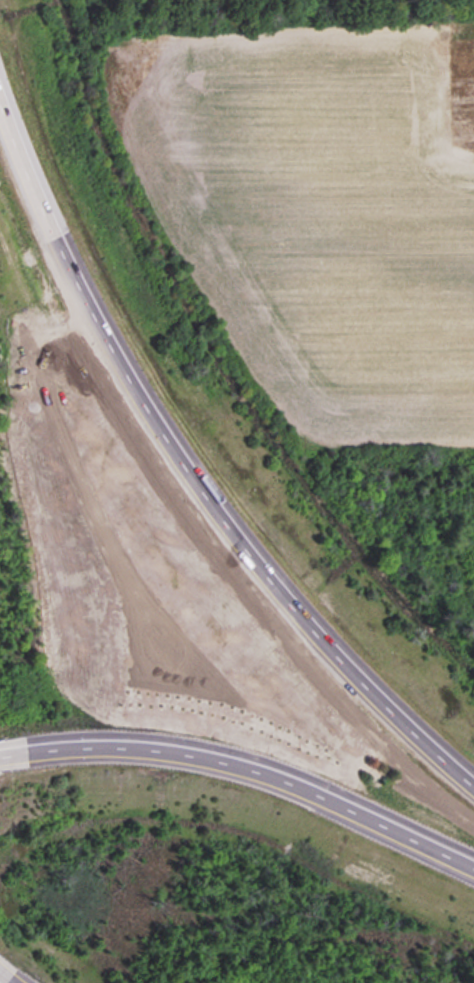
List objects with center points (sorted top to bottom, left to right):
road: (191, 477)
road: (246, 769)
road: (3, 980)

